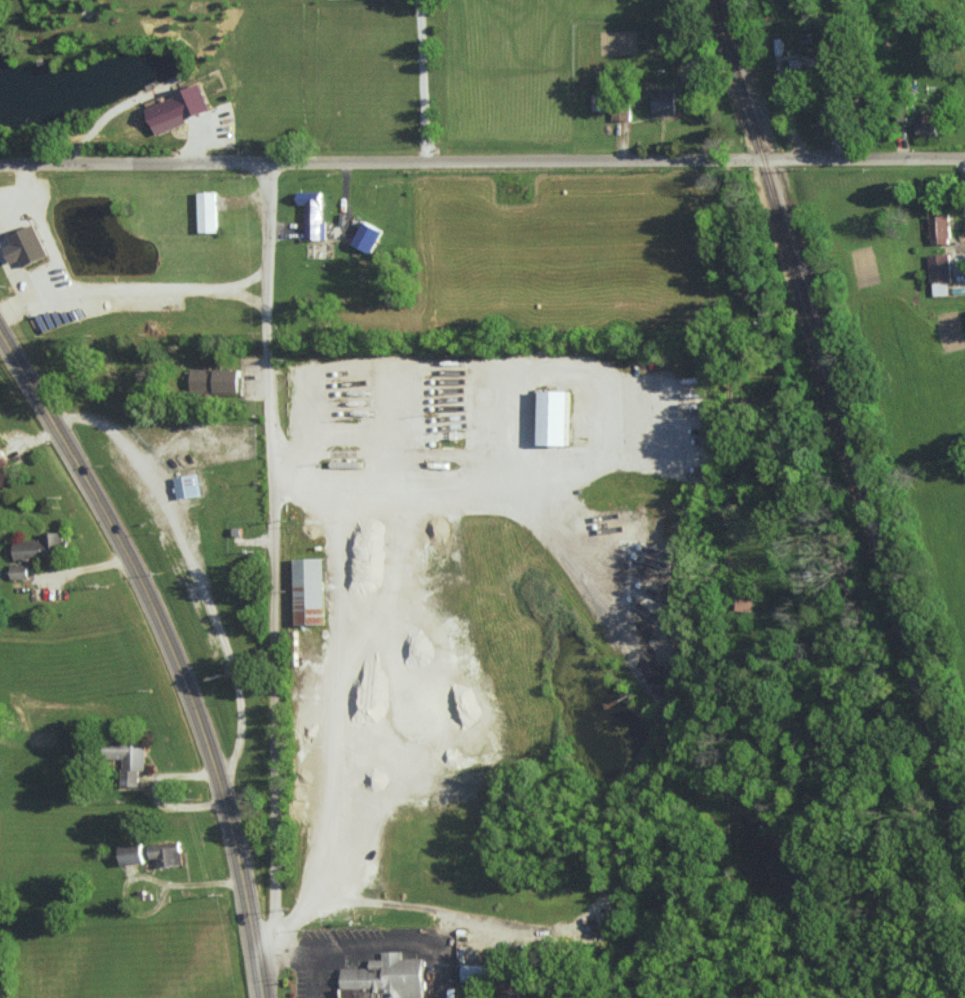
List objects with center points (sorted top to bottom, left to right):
road: (422, 80)
building: (662, 100)
building: (597, 101)
building: (177, 108)
building: (620, 113)
building: (927, 122)
road: (482, 161)
road: (964, 193)
building: (207, 211)
building: (312, 214)
building: (939, 229)
building: (366, 236)
building: (24, 246)
building: (939, 274)
road: (83, 289)
road: (227, 292)
road: (35, 298)
building: (214, 380)
railway: (840, 413)
building: (553, 417)
building: (4, 472)
building: (185, 485)
building: (37, 546)
road: (198, 568)
road: (274, 570)
building: (18, 571)
building: (308, 591)
road: (178, 637)
building: (126, 757)
building: (129, 853)
building: (165, 854)
road: (190, 884)
road: (308, 960)
building: (476, 972)
building: (385, 978)
building: (508, 987)

